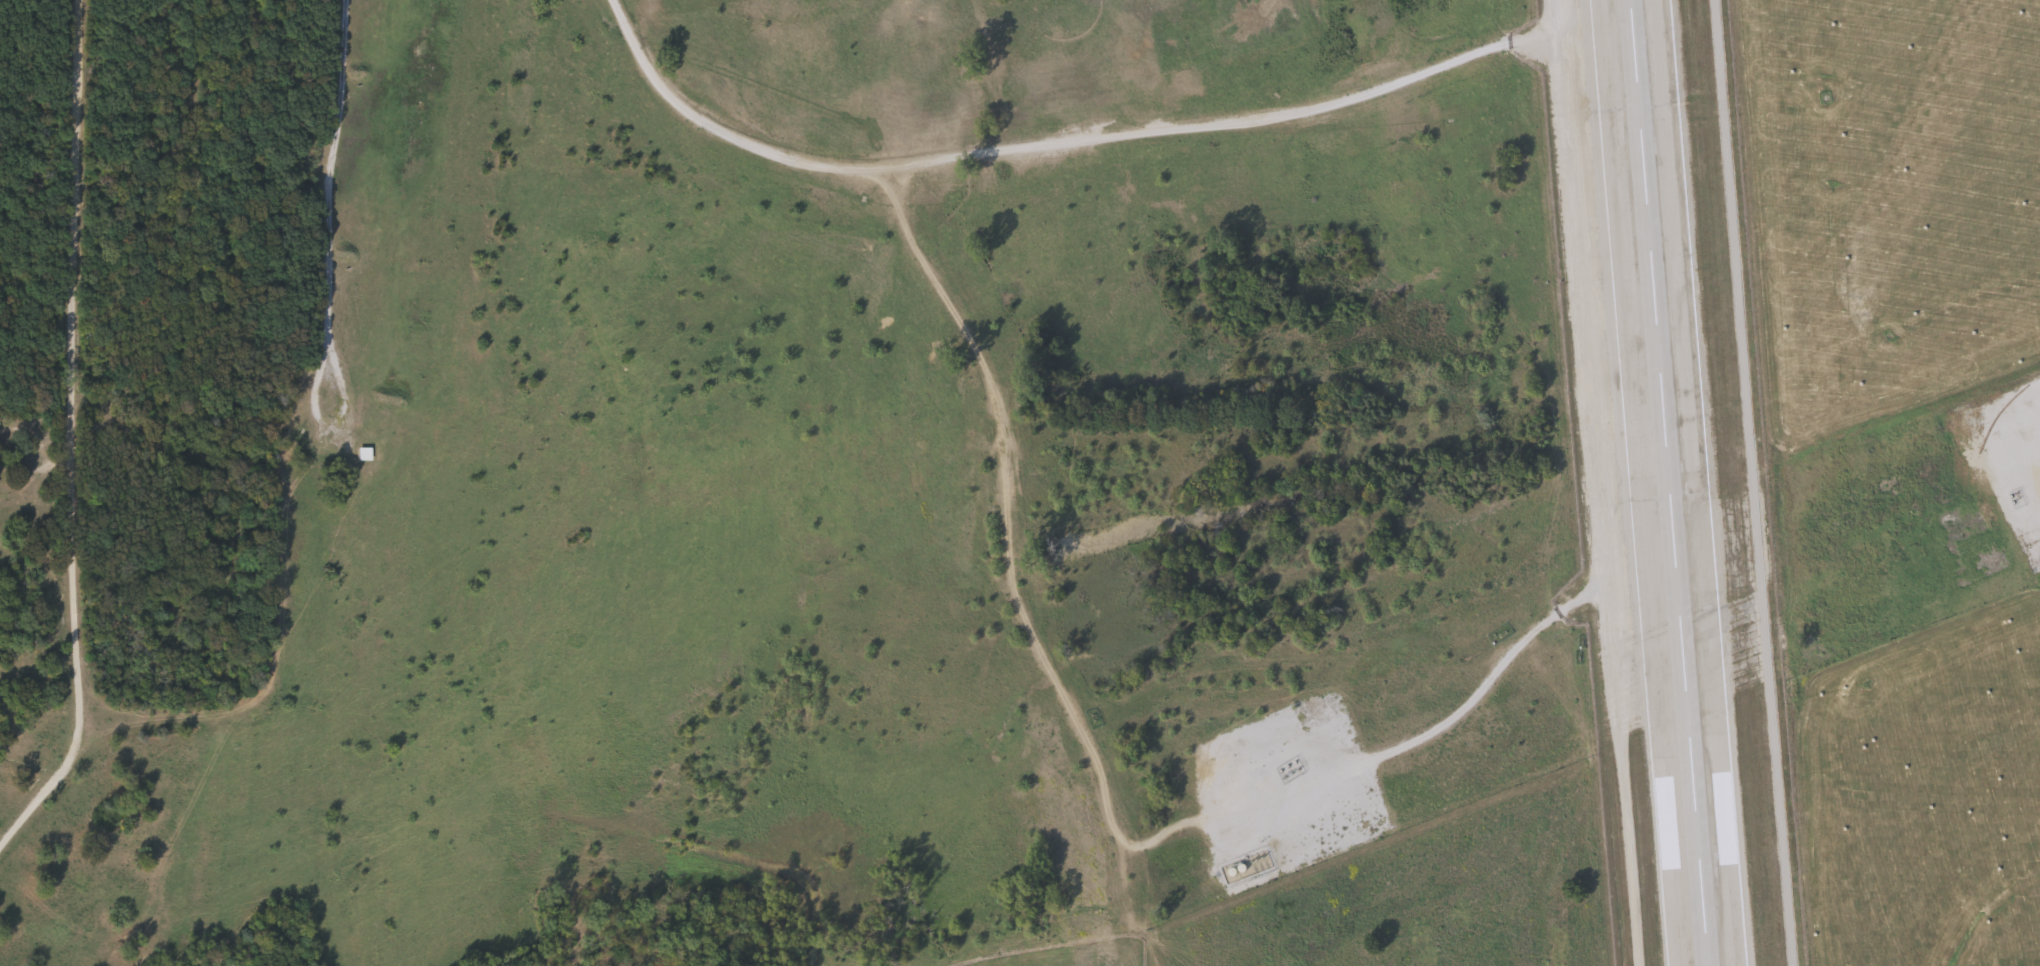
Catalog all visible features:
road: (1549, 23)
road: (1041, 147)
road: (904, 189)
road: (326, 197)
road: (70, 401)
road: (342, 401)
building: (1989, 425)
building: (362, 453)
airport: (1669, 481)
road: (26, 482)
airport runway: (1673, 482)
road: (1593, 503)
road: (1006, 535)
road: (276, 646)
road: (1515, 649)
road: (24, 746)
road: (1284, 792)
road: (20, 819)
building: (1240, 867)

